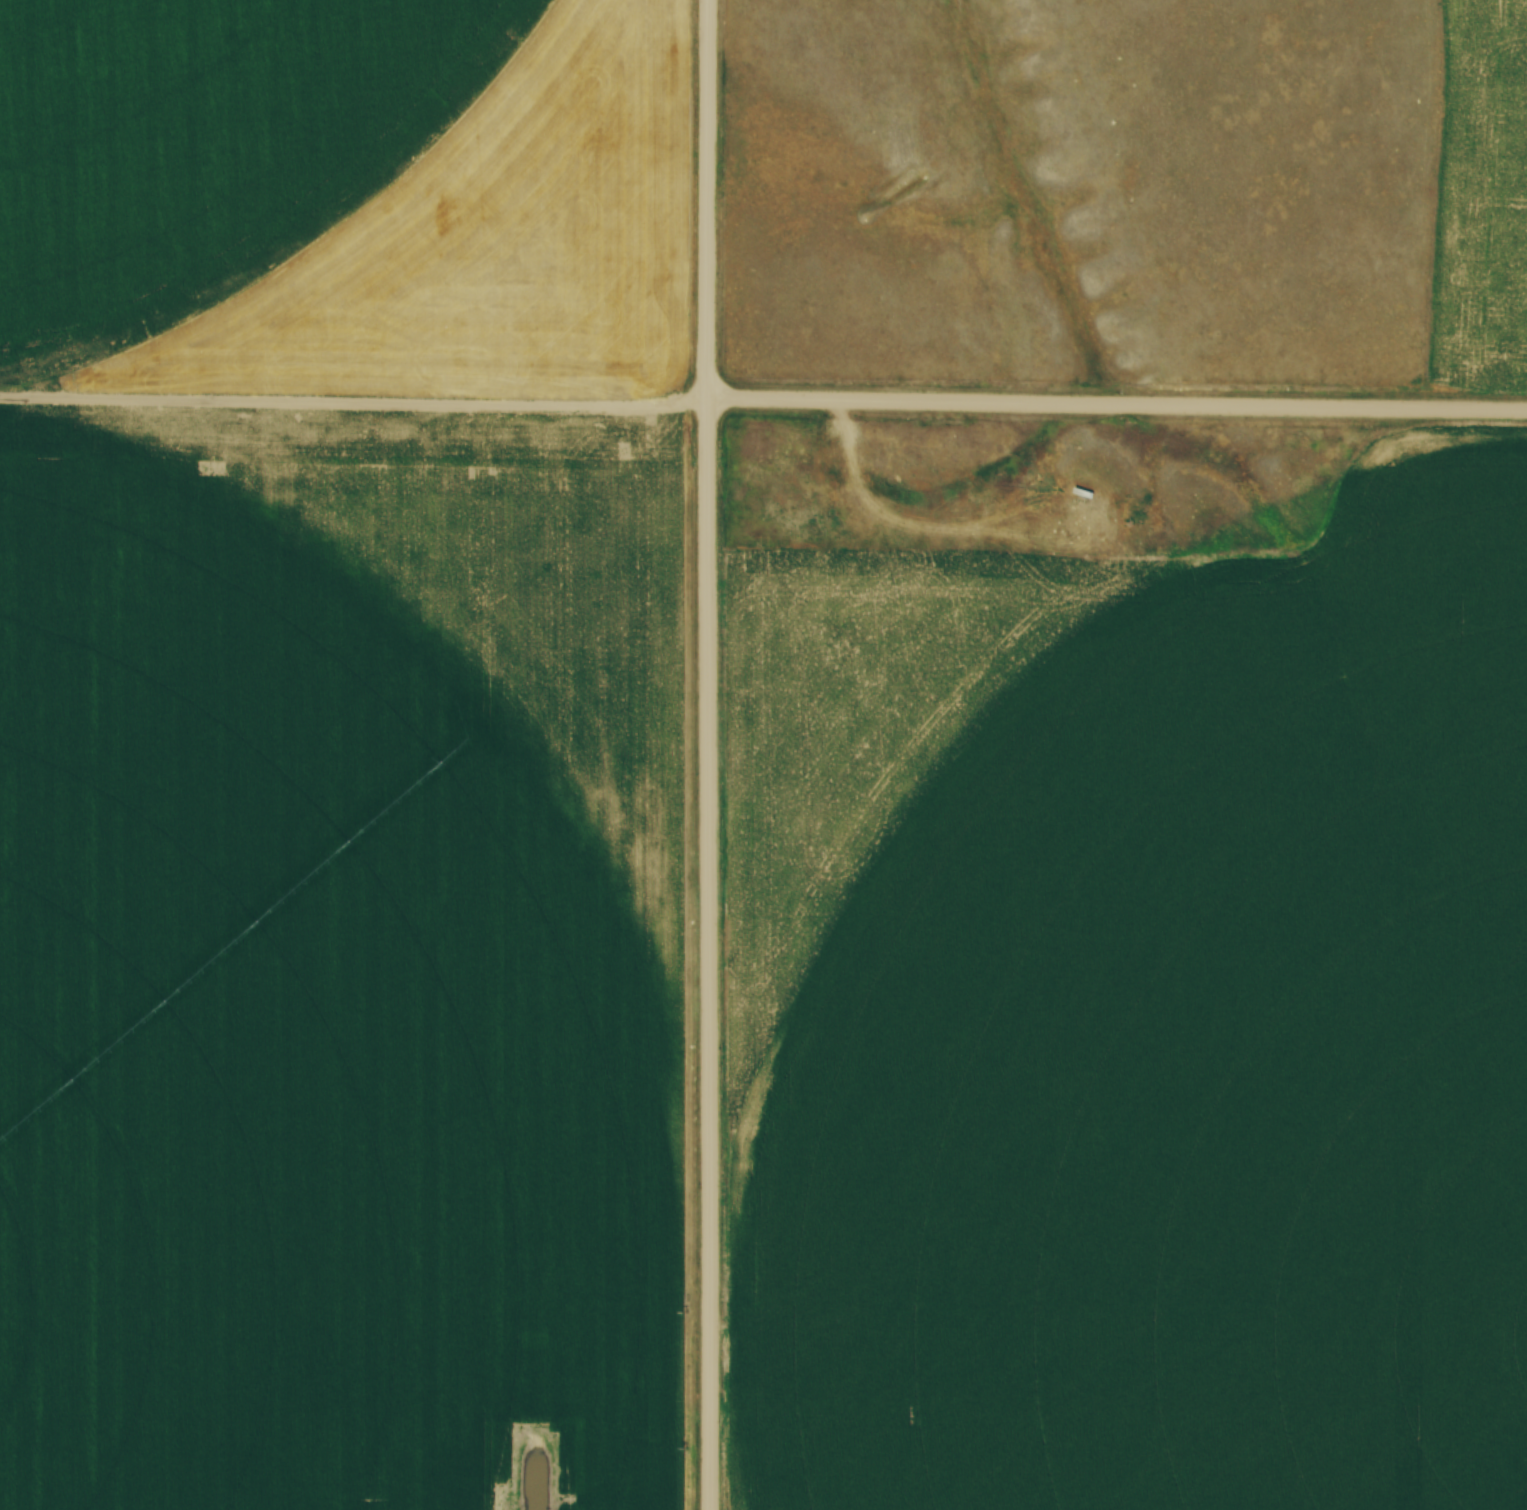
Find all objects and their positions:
crop: (1483, 185)
road: (707, 201)
road: (1116, 405)
building: (1333, 492)
crop: (346, 754)
road: (708, 956)
crop: (1136, 1020)

